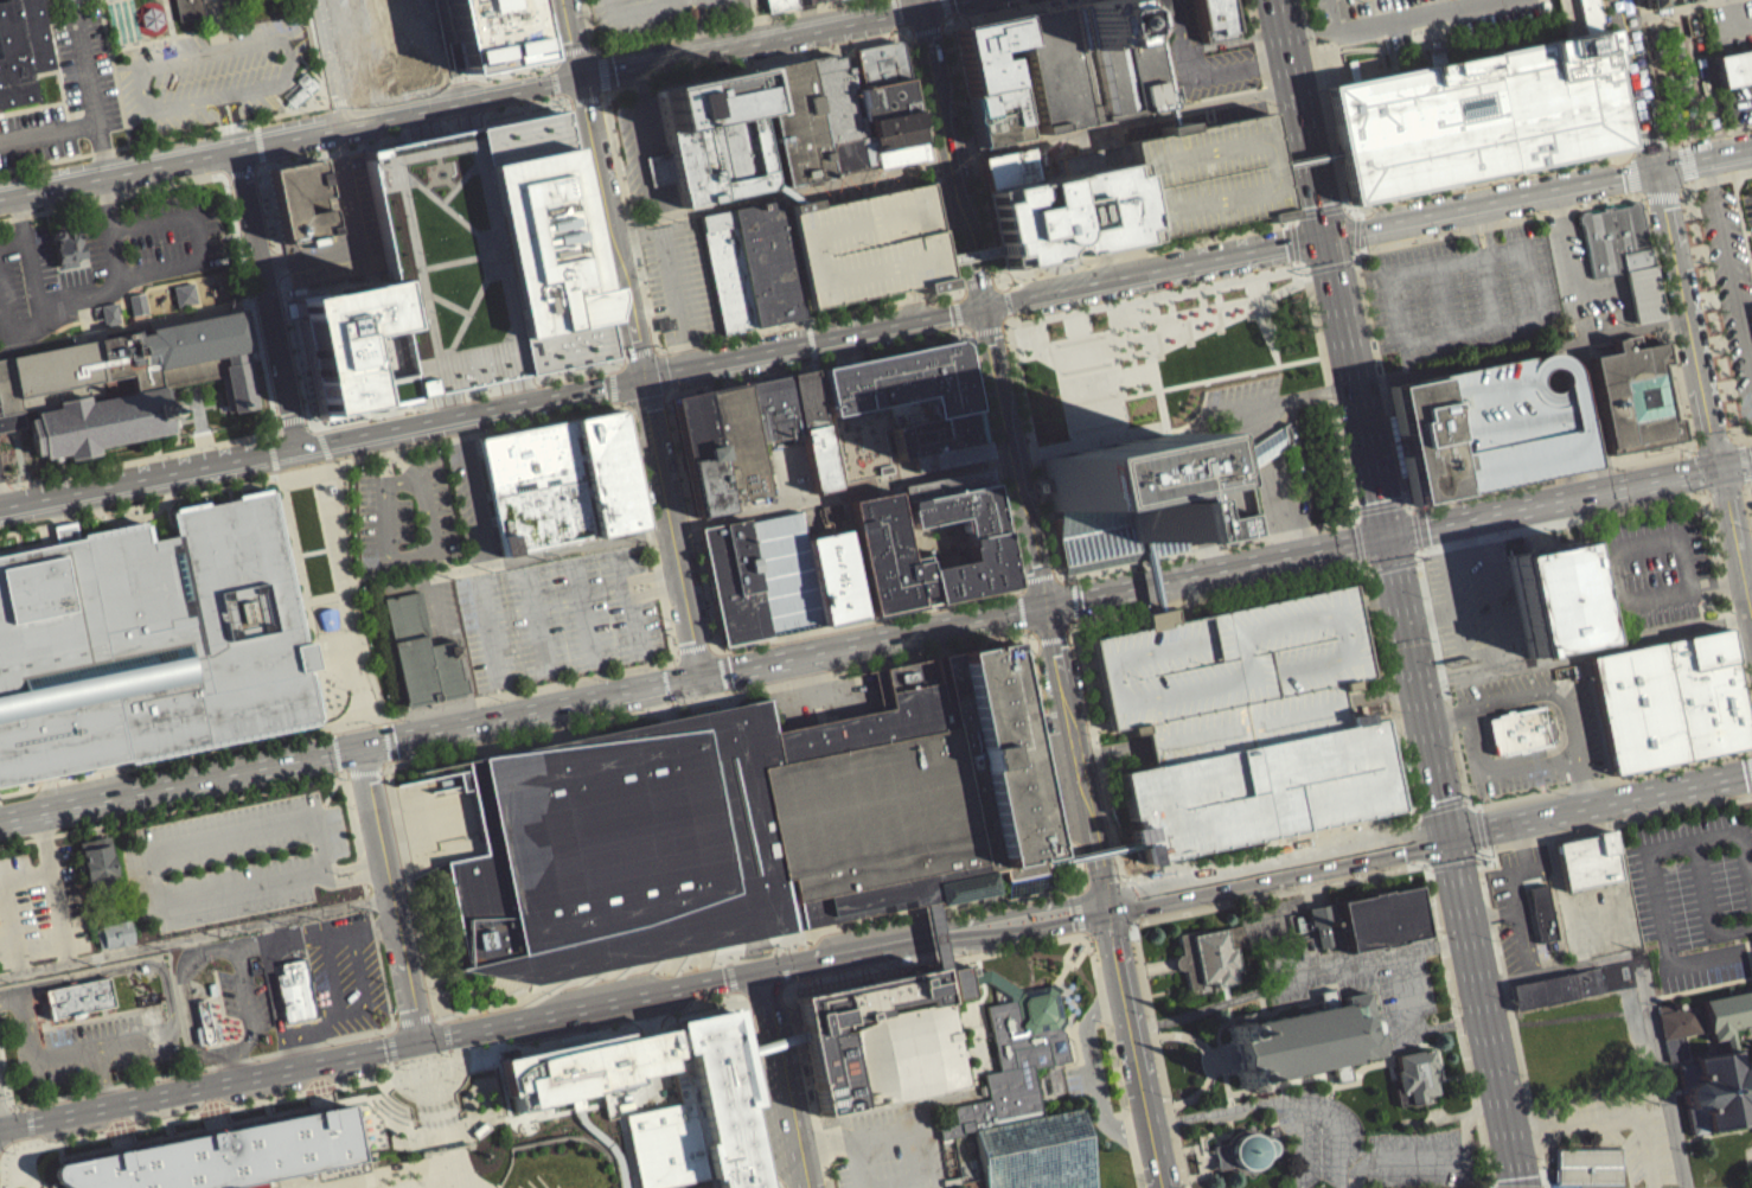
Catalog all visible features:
road: (661, 4)
building: (784, 4)
building: (1664, 4)
road: (894, 7)
road: (959, 7)
road: (1642, 7)
building: (188, 8)
parking lot: (721, 8)
road: (1668, 8)
road: (640, 11)
road: (944, 11)
building: (693, 12)
road: (1732, 14)
road: (896, 15)
traffic signals: (922, 15)
road: (1025, 15)
parking lot: (1411, 15)
road: (1339, 17)
parking lot: (633, 19)
road: (1393, 23)
road: (749, 24)
building: (1213, 24)
road: (721, 26)
road: (588, 27)
road: (690, 27)
road: (945, 27)
road: (702, 28)
building: (493, 32)
road: (545, 32)
road: (901, 34)
road: (941, 34)
road: (925, 38)
road: (909, 43)
building: (397, 47)
road: (590, 47)
road: (1233, 47)
building: (19, 49)
road: (575, 51)
building: (984, 59)
building: (881, 63)
road: (328, 64)
road: (550, 64)
parking lot: (1197, 64)
road: (752, 65)
building: (1093, 69)
road: (603, 70)
road: (1614, 70)
building: (1734, 70)
parking lot: (207, 74)
road: (1656, 76)
road: (1291, 77)
road: (552, 81)
traffic signals: (580, 83)
road: (1196, 84)
road: (89, 88)
building: (300, 88)
parking lot: (68, 90)
road: (401, 90)
road: (606, 90)
road: (603, 94)
road: (143, 96)
road: (562, 96)
road: (584, 97)
building: (885, 97)
building: (300, 98)
road: (338, 101)
road: (1322, 103)
road: (461, 106)
road: (1270, 108)
building: (837, 111)
building: (1477, 113)
building: (797, 119)
building: (891, 121)
road: (255, 122)
building: (992, 124)
road: (217, 127)
road: (49, 130)
road: (404, 132)
road: (1708, 133)
building: (716, 136)
building: (895, 138)
road: (1649, 139)
road: (258, 141)
road: (1682, 141)
parking lot: (1117, 149)
road: (949, 152)
building: (899, 153)
road: (968, 153)
road: (1628, 154)
road: (1703, 157)
road: (1687, 160)
road: (262, 161)
road: (952, 164)
road: (1309, 164)
building: (1307, 167)
traffic signals: (1656, 167)
road: (238, 170)
road: (1631, 174)
building: (1004, 177)
parking lot: (1004, 177)
road: (1718, 177)
road: (1495, 178)
building: (1203, 184)
parking lot: (1203, 184)
road: (1635, 192)
road: (1681, 194)
road: (113, 196)
road: (1661, 196)
road: (1623, 197)
road: (1642, 197)
road: (1489, 200)
building: (296, 204)
road: (1344, 207)
road: (1319, 211)
road: (1354, 211)
road: (1291, 223)
building: (1062, 224)
parking lot: (1062, 224)
road: (1488, 228)
road: (1471, 230)
road: (1357, 232)
traffic signals: (1323, 235)
road: (197, 236)
road: (1293, 241)
road: (13, 243)
road: (28, 253)
building: (865, 253)
parking garage: (865, 253)
building: (1623, 253)
road: (1145, 254)
building: (66, 255)
road: (1571, 257)
building: (482, 260)
road: (1355, 260)
building: (968, 261)
parking lot: (102, 262)
building: (766, 262)
road: (1729, 262)
road: (1330, 264)
road: (1150, 269)
building: (725, 270)
road: (1306, 270)
parking lot: (678, 273)
parking lot: (1580, 277)
road: (978, 281)
road: (1000, 282)
road: (102, 287)
road: (1488, 288)
parking lot: (1732, 288)
road: (955, 293)
parking lot: (1463, 293)
road: (1443, 298)
road: (1008, 299)
road: (266, 300)
building: (183, 302)
traffic signals: (979, 306)
road: (955, 311)
building: (135, 312)
road: (1687, 312)
road: (6, 318)
road: (1712, 318)
building: (108, 319)
road: (788, 322)
road: (806, 322)
road: (1011, 322)
road: (958, 325)
road: (987, 328)
road: (971, 332)
road: (1400, 340)
road: (631, 341)
road: (810, 341)
road: (902, 344)
building: (345, 347)
road: (1521, 351)
road: (656, 356)
road: (1137, 359)
road: (659, 379)
road: (1241, 381)
building: (121, 382)
traffic signals: (639, 382)
building: (1082, 391)
building: (1633, 394)
road: (1329, 397)
road: (664, 400)
road: (660, 405)
building: (889, 407)
road: (641, 409)
road: (490, 411)
road: (1596, 413)
building: (768, 417)
road: (1266, 419)
road: (1203, 421)
building: (1514, 421)
parking garage: (1514, 421)
road: (825, 428)
building: (810, 437)
building: (1421, 439)
building: (933, 441)
road: (1270, 443)
building: (1266, 446)
road: (1693, 447)
building: (730, 449)
road: (383, 458)
road: (402, 458)
road: (1228, 458)
road: (1010, 459)
building: (695, 461)
road: (1744, 462)
building: (946, 464)
traffic signals: (1718, 464)
road: (311, 468)
road: (1303, 475)
road: (1550, 479)
building: (560, 481)
road: (1747, 484)
parking lot: (1751, 487)
road: (477, 490)
road: (1726, 490)
parking lot: (767, 491)
building: (942, 491)
road: (1569, 496)
parking lot: (474, 498)
road: (840, 499)
road: (1679, 499)
road: (1748, 502)
road: (1381, 503)
building: (1115, 504)
road: (1281, 504)
road: (0, 506)
road: (814, 511)
road: (135, 516)
building: (954, 517)
parking lot: (401, 523)
building: (1236, 528)
traffic signals: (1388, 535)
road: (1002, 537)
road: (980, 542)
road: (426, 549)
road: (529, 555)
building: (880, 560)
road: (1213, 569)
parking lot: (1654, 574)
road: (648, 575)
building: (970, 577)
road: (1616, 577)
building: (780, 581)
parking lot: (780, 581)
road: (1035, 583)
building: (831, 586)
building: (917, 588)
road: (1018, 588)
building: (730, 589)
road: (652, 592)
road: (1014, 599)
road: (628, 600)
park: (325, 602)
road: (555, 603)
building: (1548, 605)
road: (1751, 609)
road: (583, 611)
traffic signals: (1041, 613)
parking lot: (558, 614)
parking lot: (1471, 615)
road: (1018, 619)
road: (535, 620)
road: (487, 628)
road: (782, 645)
building: (148, 647)
road: (869, 647)
road: (709, 652)
road: (1587, 653)
road: (689, 656)
building: (416, 659)
road: (674, 659)
road: (716, 660)
road: (720, 679)
traffic signals: (699, 684)
road: (488, 695)
building: (1669, 700)
road: (530, 715)
road: (1451, 718)
building: (1245, 723)
parking garage: (1245, 723)
building: (1517, 729)
road: (1068, 730)
parking lot: (1584, 732)
road: (1560, 741)
traffic signals: (362, 746)
road: (1571, 753)
building: (1002, 764)
road: (1614, 777)
road: (180, 783)
road: (332, 791)
road: (1601, 804)
road: (171, 810)
building: (715, 832)
traffic signals: (1451, 835)
road: (177, 839)
road: (1096, 851)
building: (1089, 852)
parking lot: (238, 858)
building: (1586, 858)
building: (98, 861)
road: (1649, 867)
road: (1278, 871)
road: (1748, 873)
parking lot: (1693, 877)
road: (1101, 882)
road: (53, 887)
road: (391, 896)
road: (1514, 898)
road: (5, 900)
parking lot: (1514, 901)
road: (1707, 906)
parking lot: (40, 907)
traffic signals: (1105, 909)
building: (1542, 912)
road: (1490, 916)
building: (1381, 918)
building: (178, 924)
road: (1022, 925)
road: (351, 930)
building: (114, 933)
road: (194, 935)
road: (293, 939)
road: (1107, 939)
road: (1080, 940)
road: (1560, 940)
road: (933, 941)
building: (933, 945)
road: (1086, 945)
road: (247, 950)
building: (1209, 952)
road: (1066, 957)
road: (843, 960)
road: (1076, 963)
road: (193, 964)
parking lot: (1703, 965)
road: (121, 966)
road: (933, 970)
parking lot: (346, 972)
road: (1297, 975)
road: (1341, 978)
traffic signals: (759, 979)
parking lot: (1362, 979)
road: (1055, 984)
road: (1319, 985)
building: (1556, 986)
building: (991, 989)
building: (295, 990)
road: (1644, 990)
building: (78, 996)
parking lot: (244, 999)
road: (276, 1001)
road: (1227, 1001)
road: (1260, 1001)
road: (1064, 1005)
road: (1283, 1005)
road: (1484, 1010)
road: (185, 1011)
road: (101, 1014)
building: (1727, 1014)
road: (76, 1016)
road: (250, 1016)
road: (24, 1018)
road: (46, 1018)
road: (414, 1024)
building: (206, 1026)
road: (1102, 1026)
building: (1676, 1026)
road: (1066, 1027)
road: (1411, 1030)
road: (1179, 1031)
road: (308, 1033)
road: (197, 1035)
road: (1060, 1035)
building: (1305, 1040)
road: (443, 1042)
parking lot: (97, 1046)
road: (293, 1046)
building: (881, 1046)
road: (1069, 1046)
road: (199, 1048)
traffic signals: (416, 1048)
parking lot: (1115, 1048)
road: (1133, 1048)
building: (769, 1050)
road: (60, 1054)
road: (459, 1054)
road: (1220, 1054)
road: (379, 1055)
road: (389, 1058)
road: (1160, 1058)
road: (1210, 1060)
road: (1216, 1060)
road: (454, 1064)
road: (235, 1065)
road: (1113, 1073)
road: (1207, 1073)
road: (100, 1075)
building: (581, 1075)
building: (1414, 1075)
road: (1093, 1078)
road: (780, 1082)
road: (1339, 1085)
parking lot: (1074, 1087)
parking lot: (1124, 1088)
building: (1716, 1088)
road: (1238, 1091)
road: (961, 1092)
park: (997, 1093)
road: (1182, 1100)
road: (806, 1101)
road: (806, 1103)
road: (372, 1106)
building: (1022, 1106)
road: (6, 1107)
road: (376, 1107)
road: (1222, 1109)
road: (1610, 1114)
building: (696, 1116)
road: (383, 1125)
road: (31, 1129)
parking lot: (1619, 1129)
road: (493, 1131)
road: (1341, 1131)
road: (420, 1132)
road: (206, 1133)
parking lot: (1321, 1135)
building: (477, 1136)
parking lot: (894, 1145)
road: (1302, 1145)
building: (1251, 1149)
road: (1436, 1156)
parking lot: (1418, 1158)
building: (226, 1160)
building: (1588, 1164)
road: (394, 1169)
stadium: (480, 1169)
road: (443, 1173)
road: (7, 1174)
road: (1133, 1174)
road: (25, 1180)
road: (298, 1180)
parking lot: (1143, 1181)
road: (468, 1183)
road: (15, 1184)
road: (446, 1184)
road: (262, 1187)

